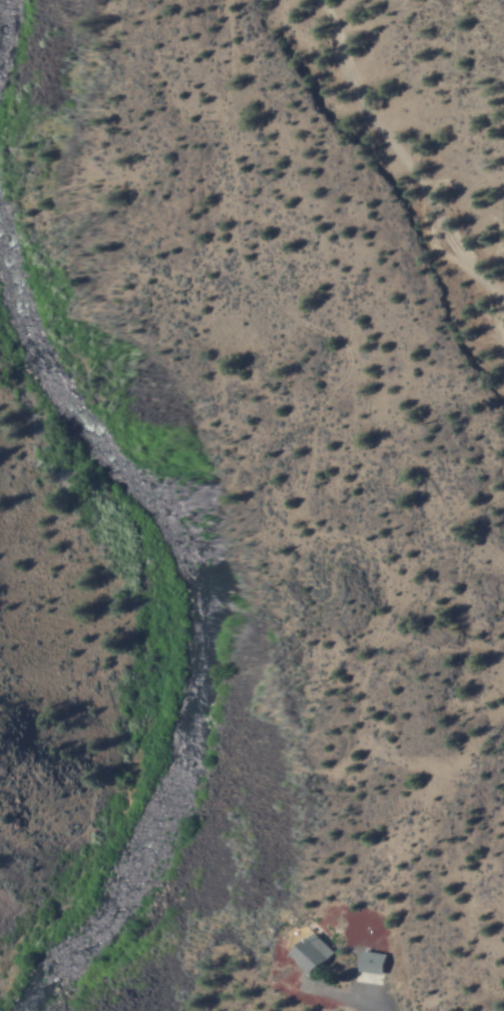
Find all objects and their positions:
road: (412, 164)
river: (191, 647)
building: (314, 953)
building: (373, 962)

